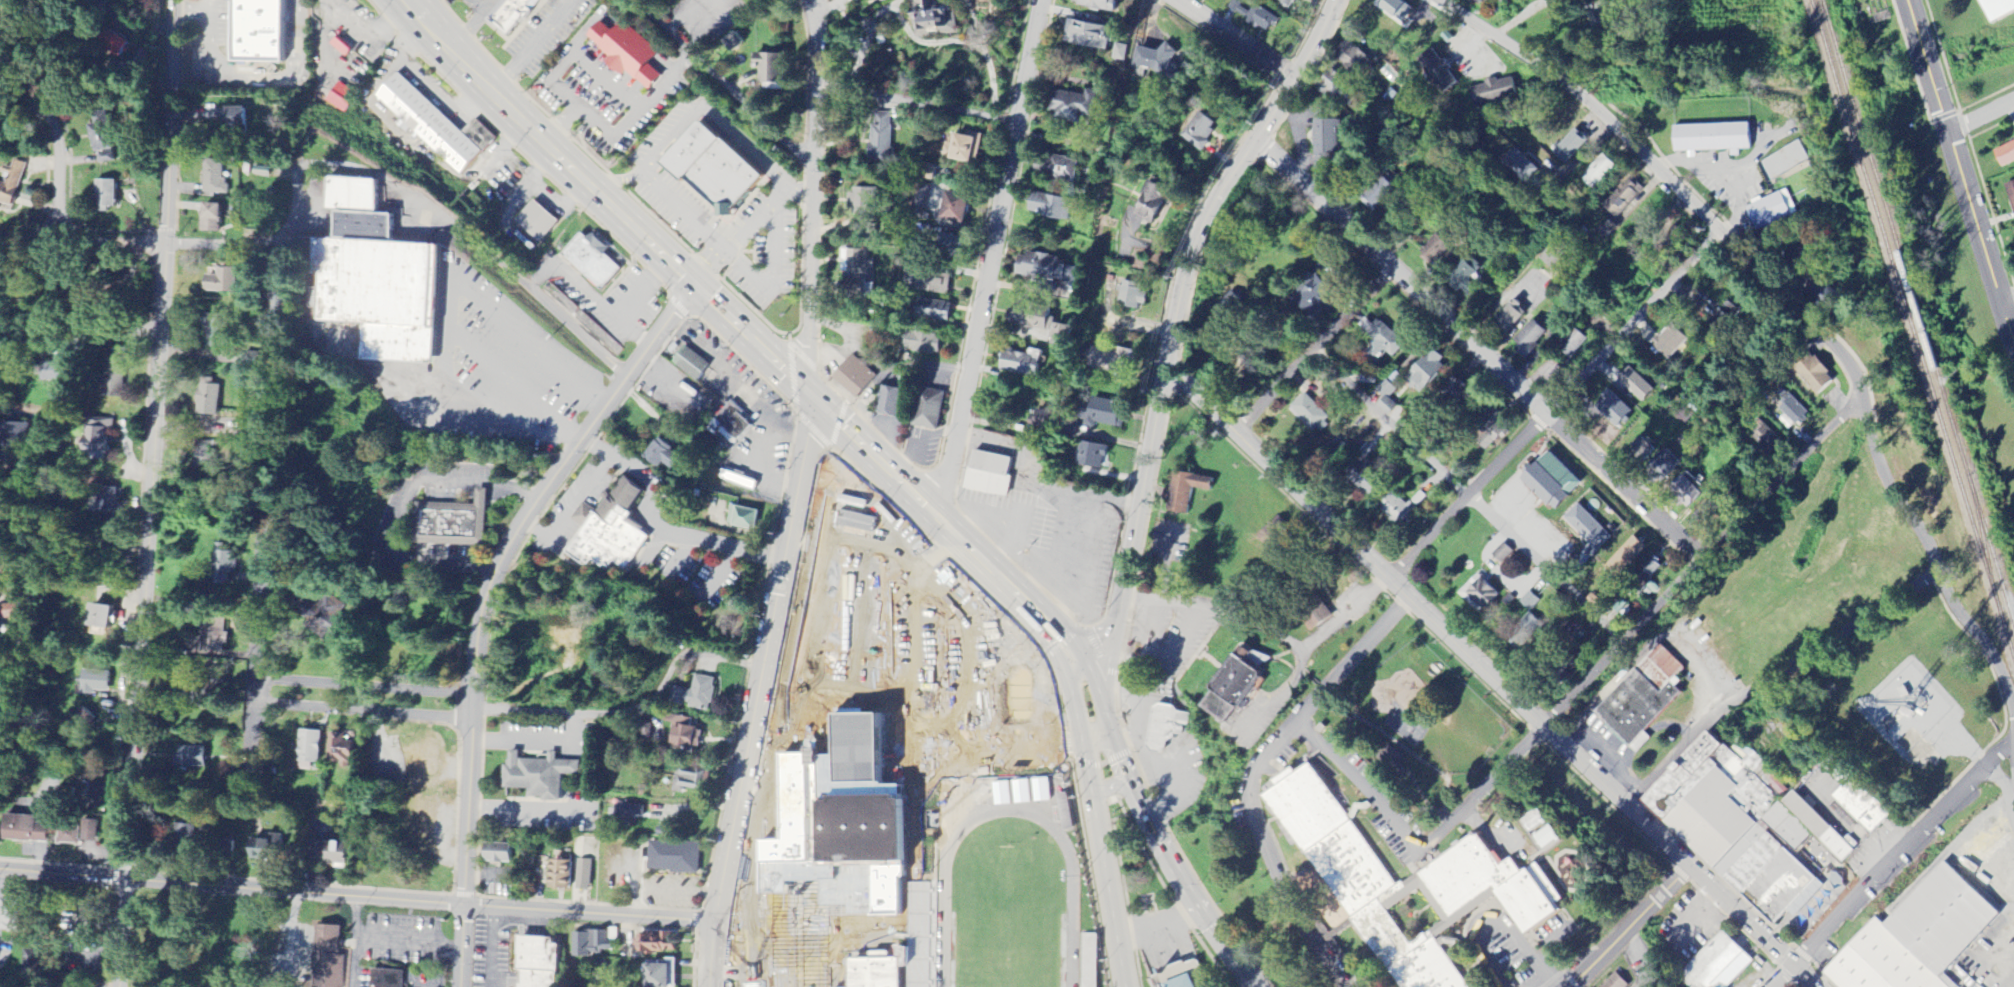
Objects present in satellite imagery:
building: (102, 0)
building: (854, 0)
building: (974, 0)
building: (1579, 0)
building: (1470, 1)
building: (1284, 2)
road: (210, 5)
building: (1101, 5)
building: (1995, 8)
road: (99, 9)
building: (1392, 9)
road: (191, 10)
building: (514, 14)
building: (1259, 19)
building: (926, 24)
road: (809, 27)
road: (1215, 27)
building: (265, 31)
building: (1091, 36)
road: (855, 39)
railway: (1825, 41)
building: (733, 43)
road: (1470, 43)
building: (114, 44)
building: (343, 47)
road: (920, 48)
park: (1974, 48)
building: (1120, 52)
building: (631, 54)
road: (971, 57)
building: (1350, 59)
building: (1157, 61)
building: (777, 69)
building: (1434, 72)
road: (258, 79)
road: (723, 88)
building: (1334, 88)
building: (1491, 92)
railway: (1841, 93)
road: (498, 96)
building: (343, 98)
road: (915, 105)
road: (579, 107)
building: (1077, 108)
road: (715, 116)
road: (1981, 118)
road: (22, 119)
building: (237, 122)
road: (561, 124)
building: (437, 126)
building: (1198, 130)
building: (1325, 138)
building: (1709, 139)
road: (54, 140)
building: (104, 141)
building: (883, 141)
building: (1567, 147)
building: (969, 149)
building: (2004, 155)
building: (1781, 162)
building: (1518, 166)
building: (1062, 169)
building: (721, 172)
road: (1959, 172)
building: (1596, 173)
road: (399, 175)
road: (1718, 177)
building: (215, 178)
road: (618, 182)
building: (12, 187)
building: (108, 196)
building: (1373, 197)
building: (1621, 198)
building: (2010, 198)
building: (864, 202)
building: (1149, 202)
building: (1053, 207)
building: (959, 208)
road: (766, 209)
building: (1767, 212)
building: (213, 219)
building: (538, 222)
building: (870, 226)
road: (701, 228)
building: (1604, 229)
road: (80, 242)
building: (1432, 253)
building: (594, 261)
road: (989, 261)
building: (1043, 267)
building: (856, 268)
building: (372, 274)
building: (1462, 274)
building: (928, 280)
building: (225, 281)
traffic signals: (695, 289)
road: (1530, 291)
building: (1821, 293)
building: (1133, 296)
building: (1312, 299)
road: (2007, 302)
railway: (1917, 309)
building: (936, 311)
building: (1506, 318)
building: (1043, 323)
road: (1174, 329)
building: (220, 333)
road: (85, 335)
building: (1528, 337)
building: (1380, 341)
building: (1669, 342)
building: (926, 343)
building: (1569, 343)
road: (1479, 350)
road: (1314, 352)
road: (1824, 360)
building: (1025, 363)
building: (692, 364)
building: (1424, 371)
building: (116, 373)
building: (1810, 373)
building: (857, 377)
railway: (1929, 380)
building: (1633, 384)
building: (1383, 390)
building: (1453, 393)
building: (210, 397)
traffic signals: (808, 398)
building: (893, 403)
road: (1553, 405)
building: (1610, 409)
building: (930, 410)
building: (1791, 410)
building: (1109, 411)
building: (1309, 414)
building: (735, 422)
building: (1491, 428)
road: (846, 434)
building: (100, 439)
building: (1765, 439)
building: (1637, 452)
building: (667, 453)
building: (1094, 456)
building: (1659, 467)
building: (992, 475)
building: (1362, 475)
building: (1547, 482)
building: (1187, 491)
building: (1683, 492)
road: (148, 493)
road: (794, 496)
road: (1469, 497)
building: (107, 503)
road: (573, 504)
road: (402, 510)
building: (1395, 510)
building: (747, 519)
building: (455, 524)
building: (606, 527)
road: (662, 527)
building: (1584, 528)
railway: (1982, 537)
road: (277, 538)
building: (1623, 558)
building: (222, 566)
building: (1645, 574)
building: (1477, 596)
building: (1527, 602)
road: (483, 605)
building: (12, 611)
building: (103, 617)
road: (1644, 621)
building: (1314, 623)
building: (1527, 624)
road: (256, 636)
building: (216, 638)
road: (1491, 678)
building: (98, 682)
road: (1773, 682)
traffic signals: (1088, 685)
building: (1238, 686)
road: (364, 687)
building: (696, 694)
road: (362, 699)
road: (360, 710)
road: (631, 713)
building: (85, 718)
building: (1165, 728)
building: (685, 732)
road: (246, 733)
road: (534, 740)
building: (311, 747)
building: (341, 750)
building: (191, 757)
building: (426, 758)
road: (1249, 774)
building: (542, 775)
building: (690, 779)
road: (1364, 782)
building: (90, 790)
building: (1864, 805)
road: (526, 810)
building: (1067, 812)
building: (626, 814)
building: (422, 818)
building: (1538, 820)
building: (1828, 826)
building: (869, 827)
building: (1737, 827)
building: (1790, 827)
building: (25, 830)
building: (191, 830)
building: (71, 835)
road: (1098, 836)
building: (1549, 837)
road: (1164, 840)
building: (270, 849)
building: (332, 853)
building: (500, 853)
building: (675, 858)
road: (1881, 869)
building: (563, 874)
building: (585, 875)
building: (1412, 886)
building: (860, 888)
road: (356, 897)
flagpole: (1149, 908)
building: (11, 914)
park: (1005, 916)
road: (1496, 921)
road: (1631, 926)
track: (940, 930)
building: (1921, 937)
road: (292, 940)
road: (355, 942)
building: (593, 942)
building: (659, 943)
road: (409, 944)
road: (1547, 945)
building: (329, 956)
building: (540, 962)
building: (37, 963)
building: (1717, 964)
building: (882, 972)
building: (662, 975)
road: (742, 975)
building: (1178, 976)
building: (388, 979)
road: (778, 979)
road: (800, 980)
building: (1618, 982)
road: (777, 983)

